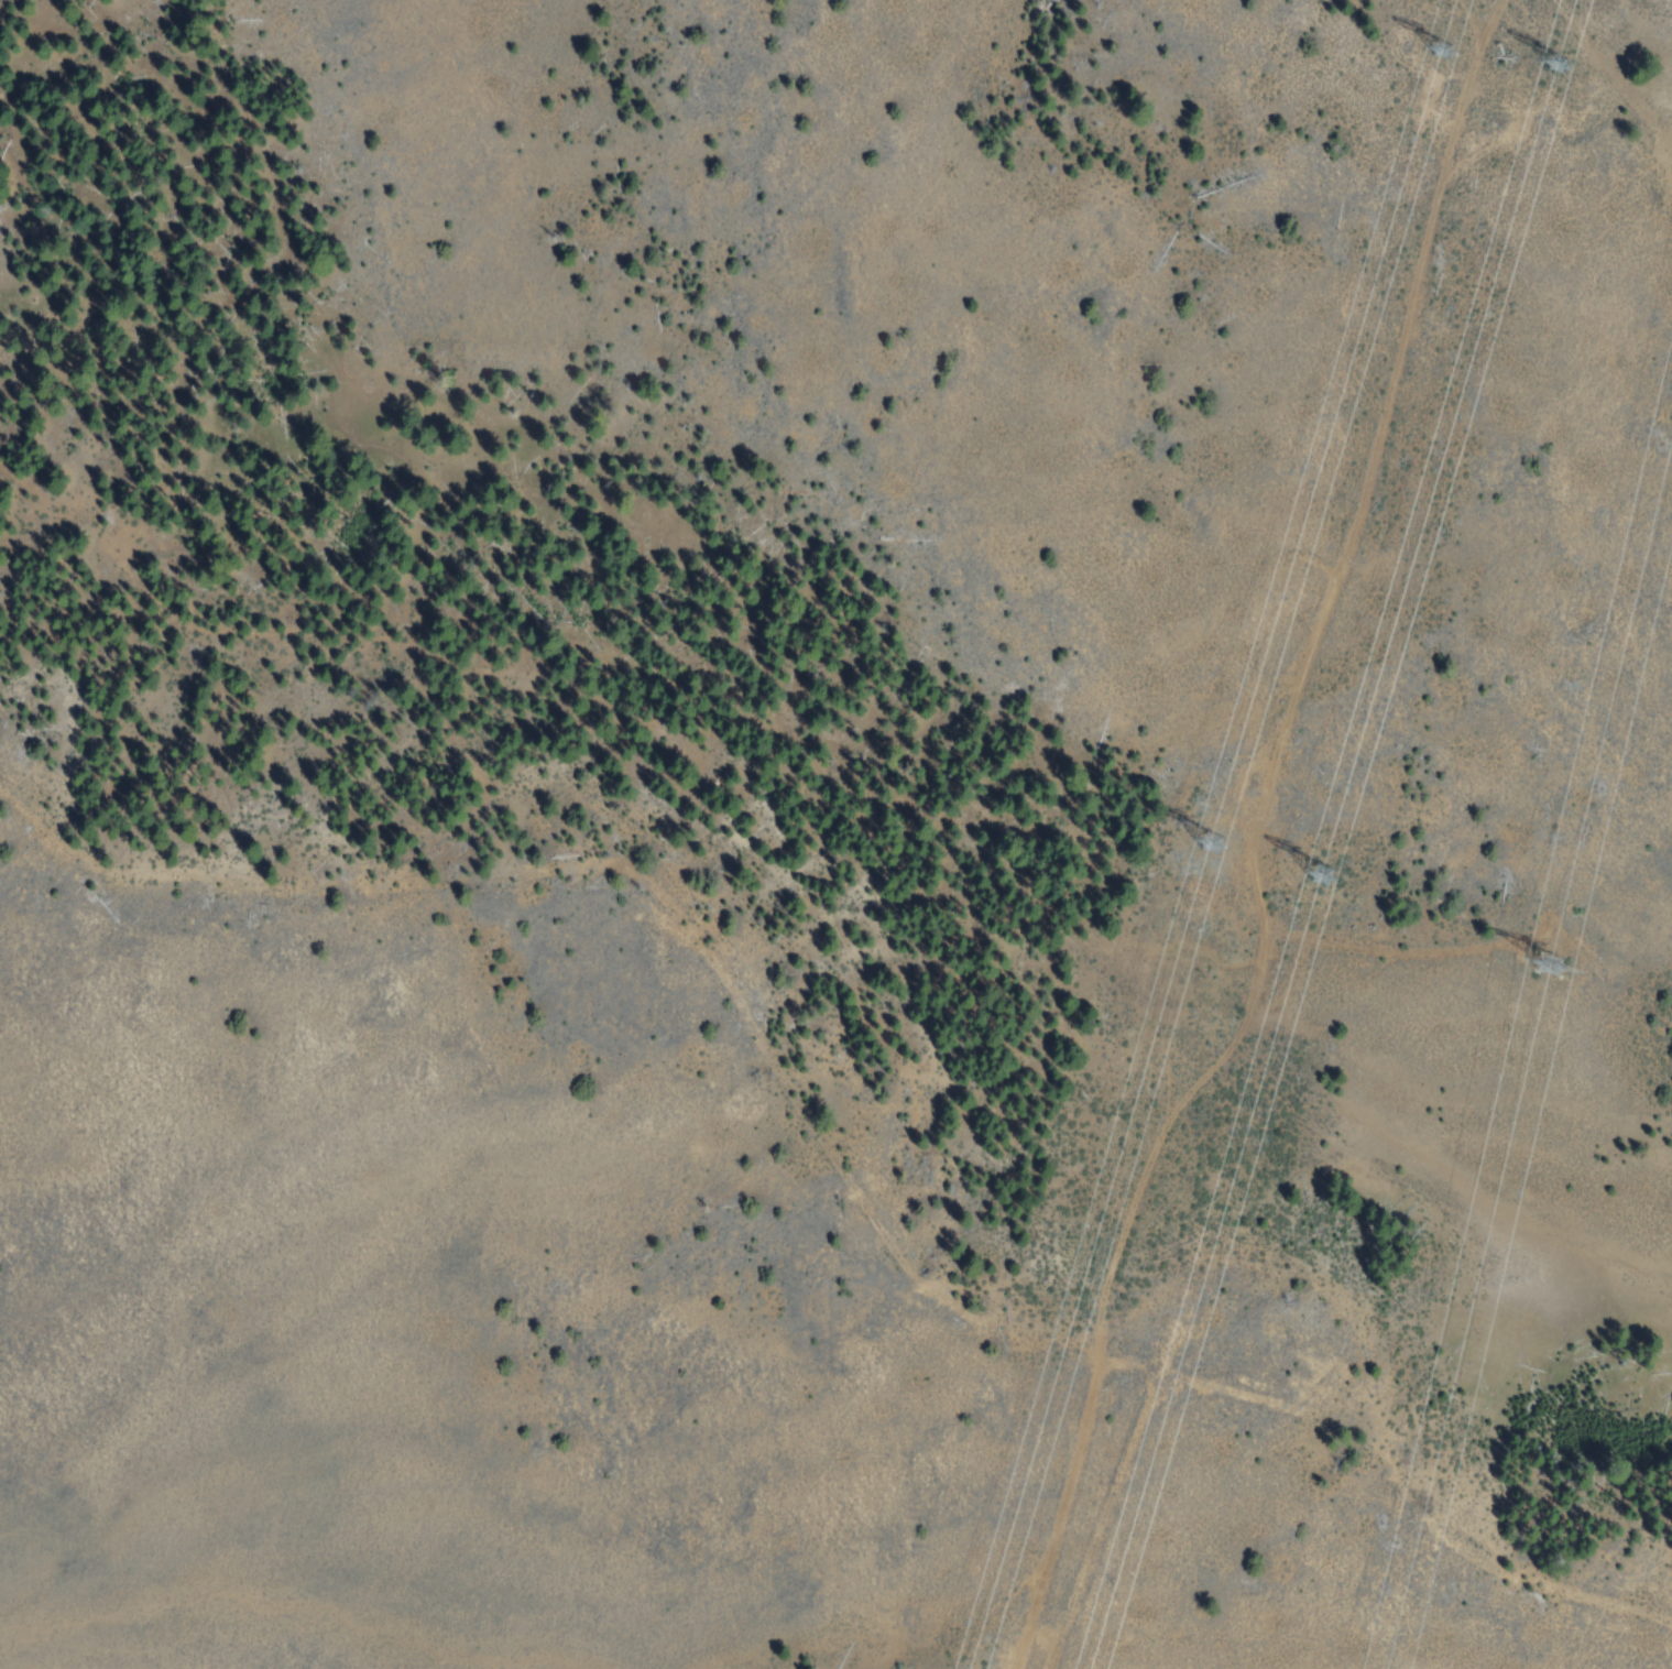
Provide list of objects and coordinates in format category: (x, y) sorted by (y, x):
power tower: (1555, 37)
power tower: (1442, 40)
road: (1302, 681)
power tower: (1202, 820)
power tower: (1323, 847)
road: (671, 902)
power tower: (1541, 952)
road: (1428, 1470)

